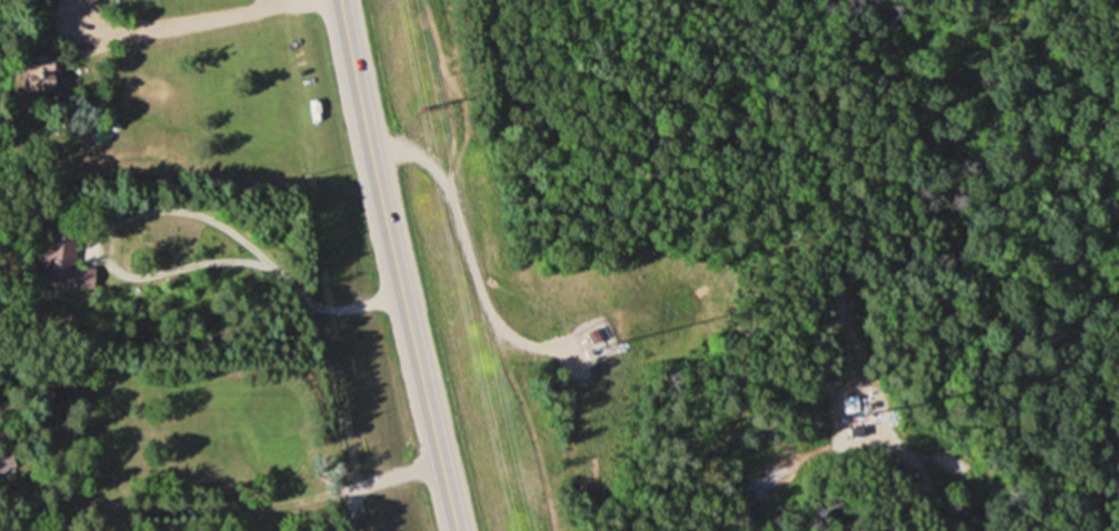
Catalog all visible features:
road: (211, 19)
building: (41, 71)
power tower: (423, 107)
road: (160, 210)
road: (469, 242)
building: (72, 263)
road: (397, 265)
building: (851, 404)
road: (379, 480)

